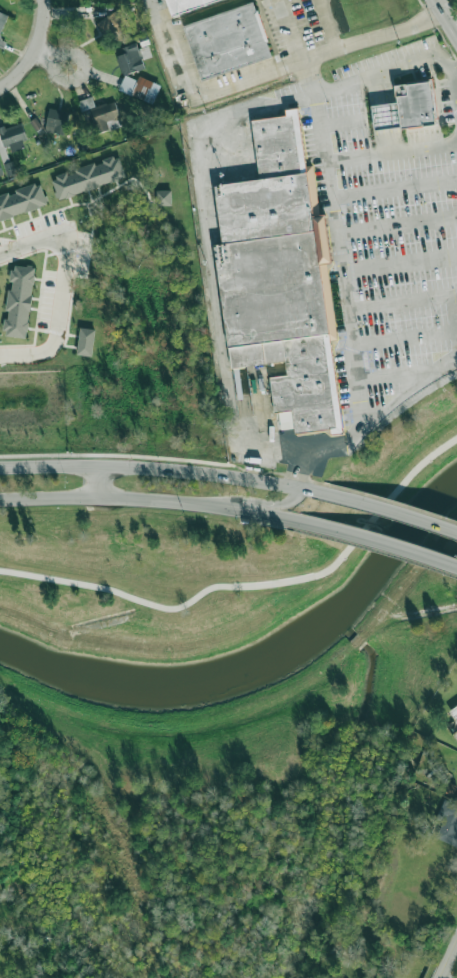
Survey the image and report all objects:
building: (181, 4)
road: (446, 17)
building: (2, 20)
building: (114, 24)
road: (328, 24)
road: (289, 30)
building: (226, 38)
building: (2, 42)
road: (37, 52)
road: (47, 54)
building: (129, 60)
road: (383, 65)
road: (54, 70)
road: (268, 72)
road: (455, 77)
building: (140, 86)
road: (311, 92)
building: (407, 107)
building: (102, 114)
building: (56, 121)
building: (12, 138)
road: (394, 151)
building: (1, 171)
building: (89, 177)
building: (163, 197)
building: (22, 201)
road: (398, 213)
parking lot: (400, 220)
road: (210, 265)
road: (402, 268)
road: (346, 274)
building: (284, 277)
road: (63, 285)
building: (19, 301)
road: (399, 303)
road: (449, 323)
road: (404, 339)
building: (85, 342)
road: (408, 369)
building: (241, 382)
road: (371, 421)
road: (381, 427)
road: (419, 445)
road: (165, 469)
road: (102, 482)
road: (258, 498)
road: (152, 500)
road: (393, 512)
road: (380, 546)
road: (252, 585)
river: (261, 664)
building: (448, 824)
road: (449, 961)

